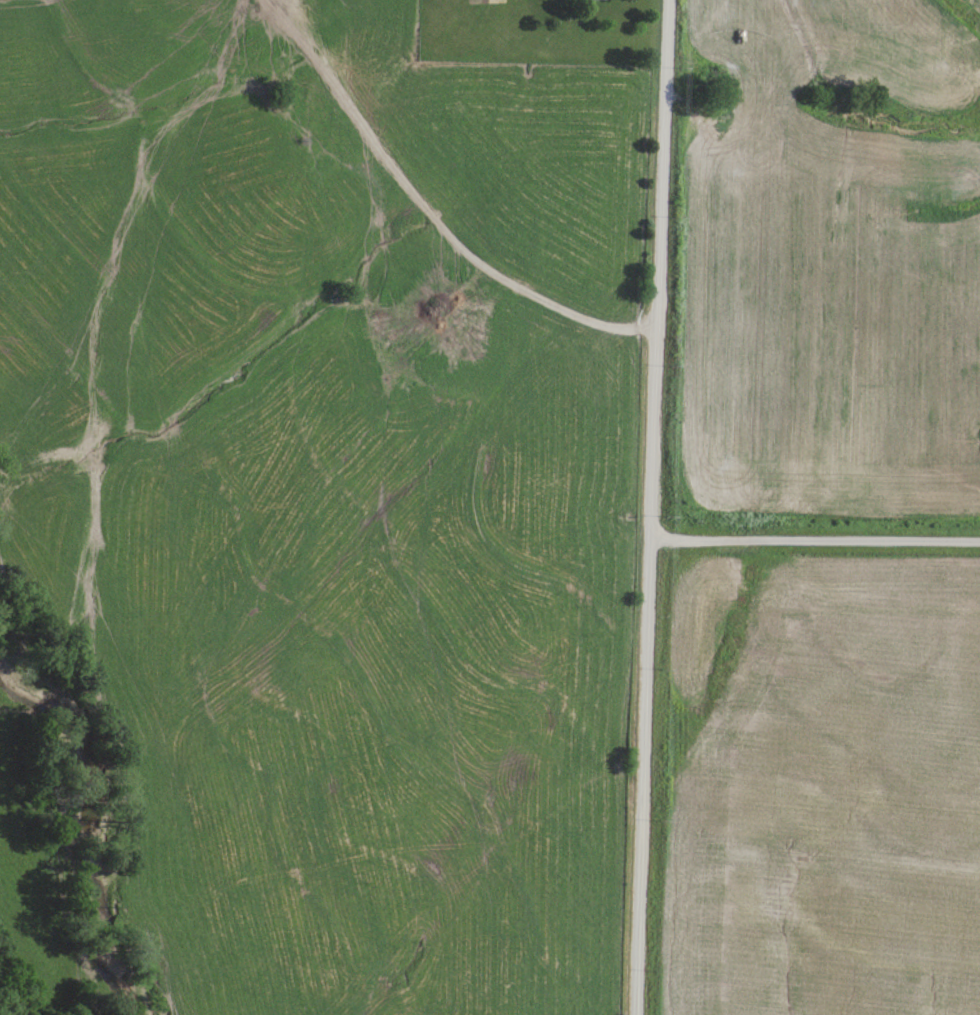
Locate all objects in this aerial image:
building: (594, 0)
road: (647, 507)
road: (812, 543)

